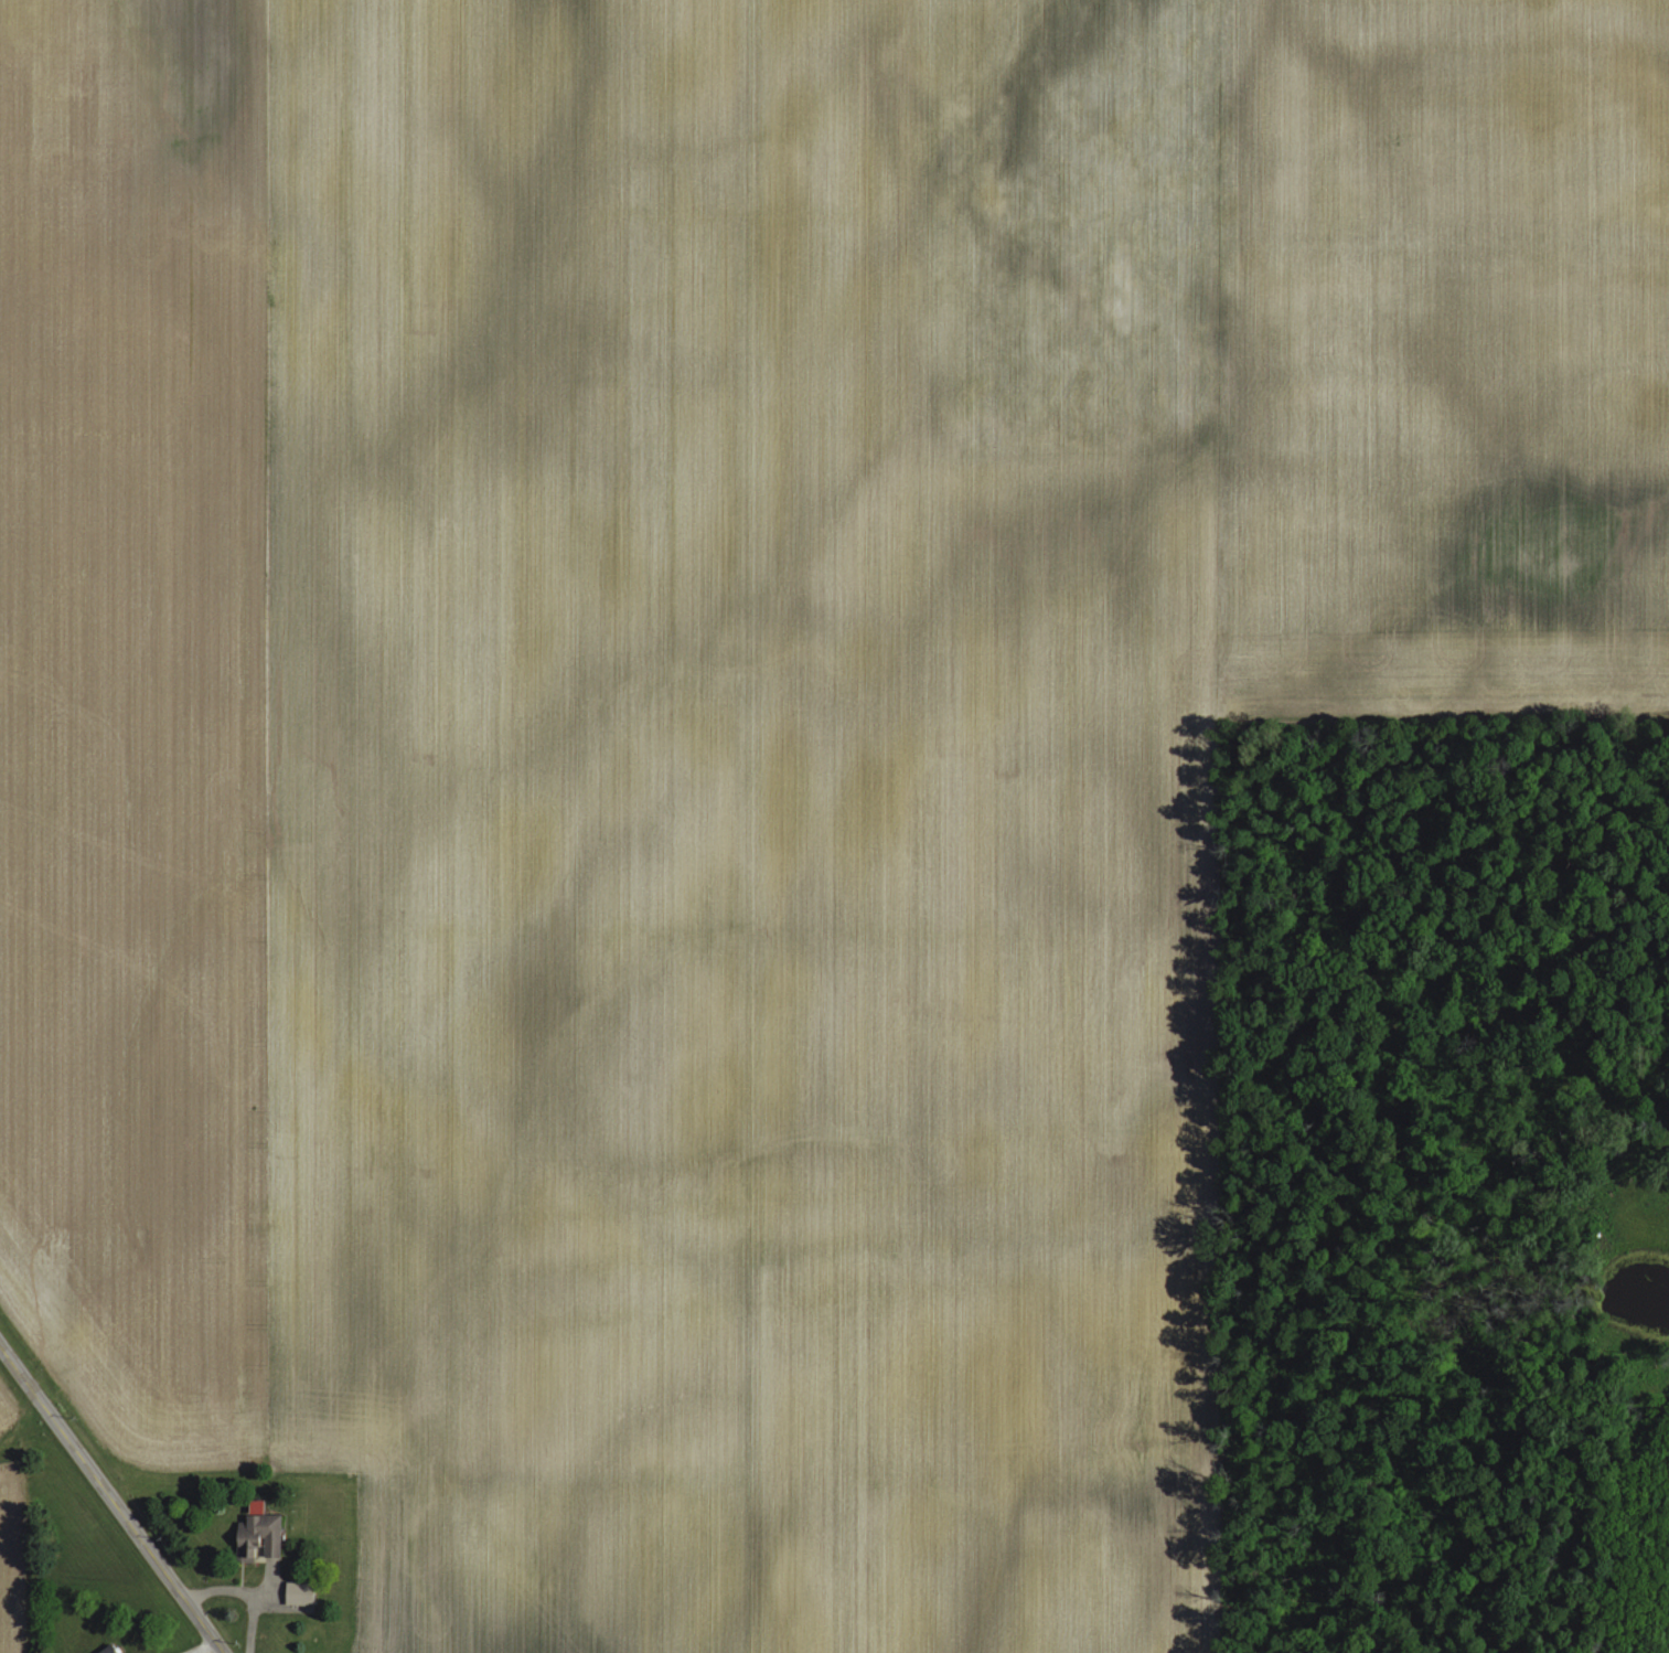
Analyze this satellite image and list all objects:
road: (110, 1501)
building: (261, 1535)
building: (300, 1592)
building: (118, 1652)

